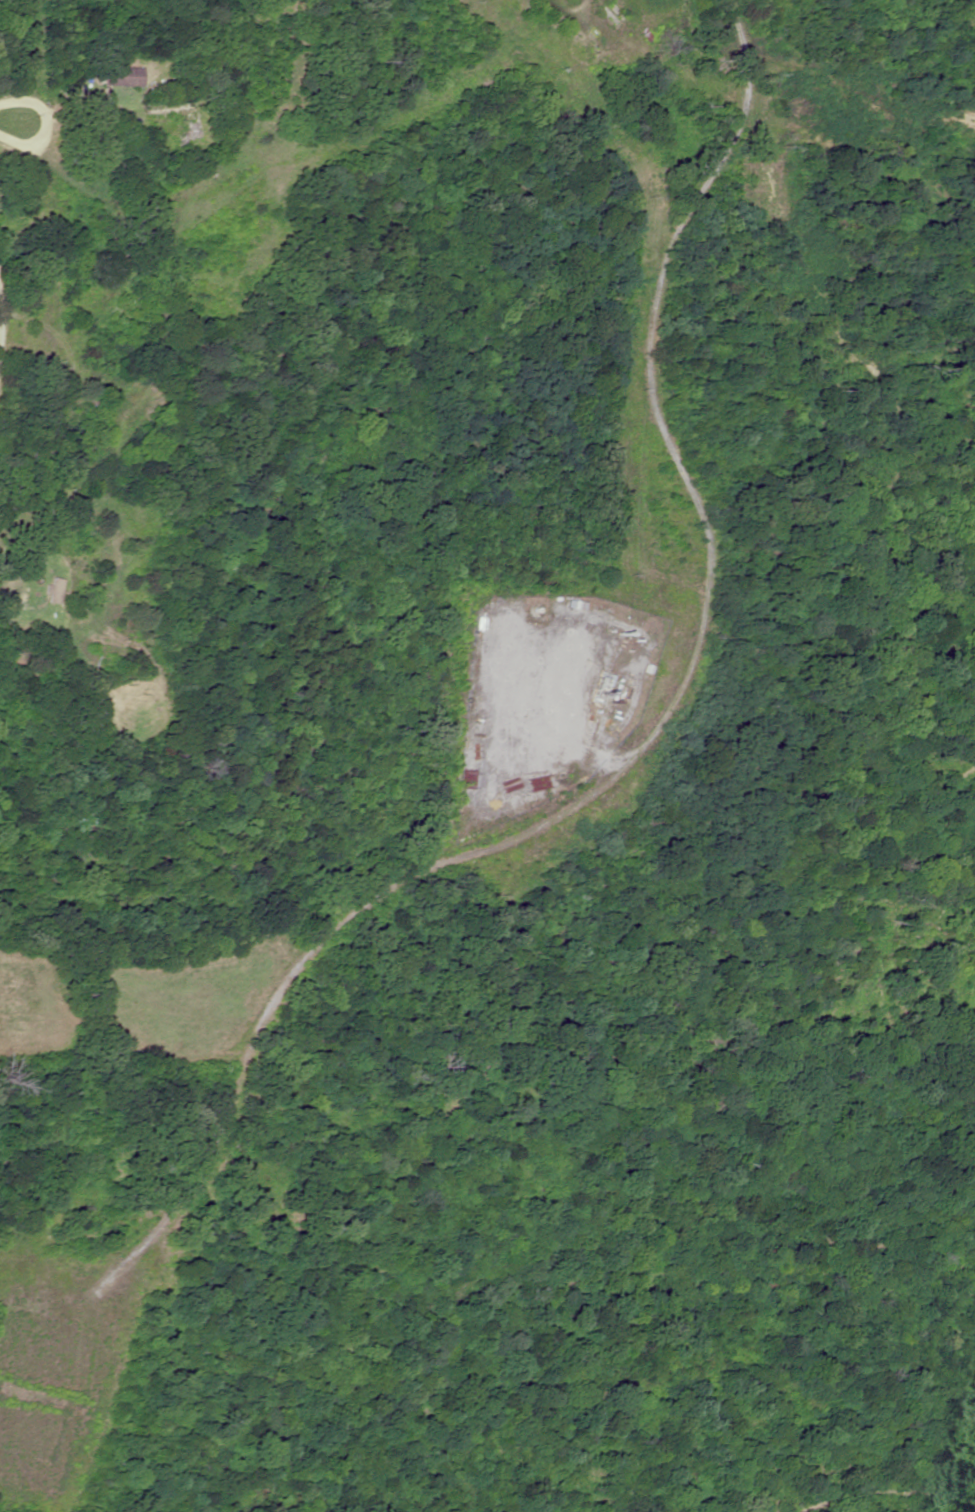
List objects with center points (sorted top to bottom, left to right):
building: (120, 77)
building: (184, 120)
building: (63, 419)
road: (700, 419)
road: (128, 435)
road: (879, 1496)

